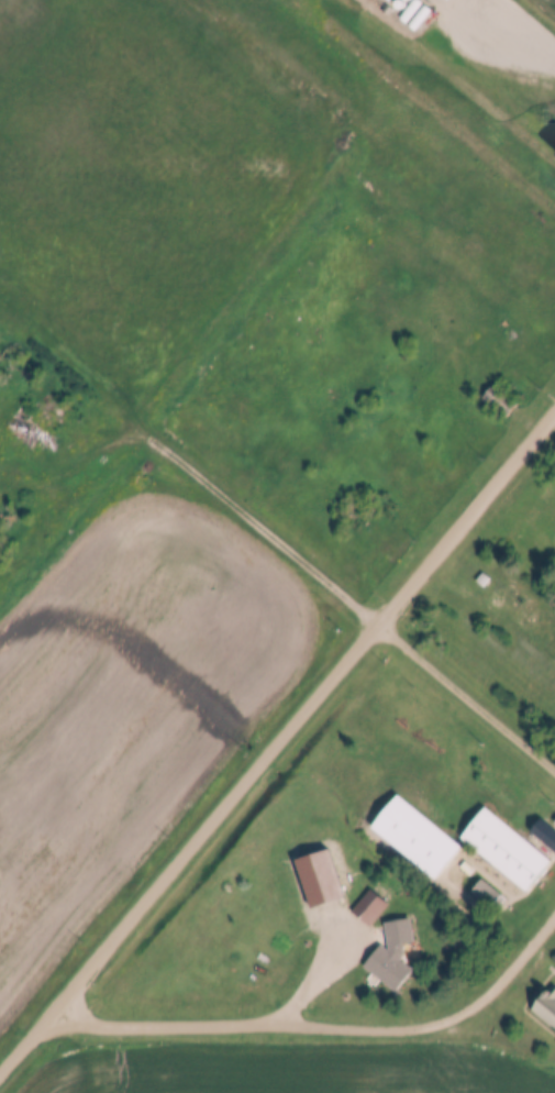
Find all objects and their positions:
road: (469, 695)
road: (279, 746)
building: (545, 832)
building: (415, 836)
building: (506, 848)
building: (392, 953)
road: (320, 1028)

